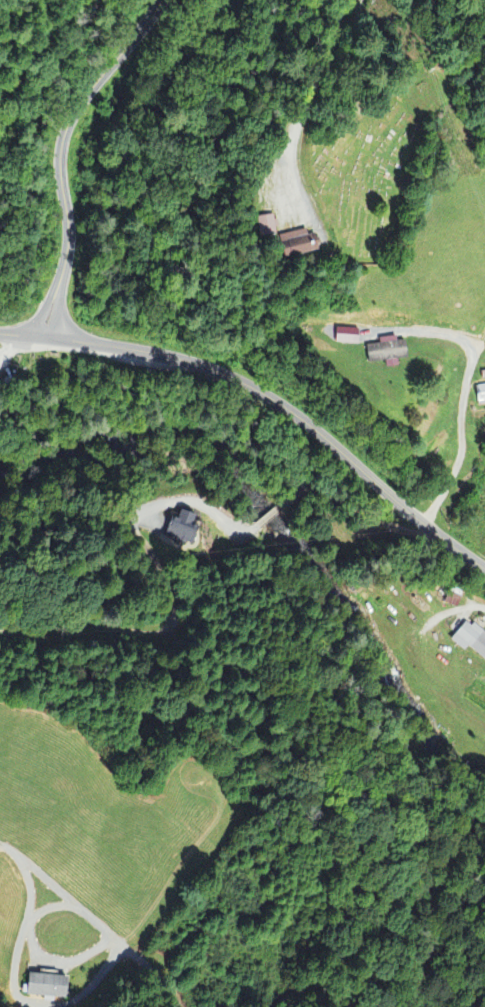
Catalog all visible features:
road: (307, 103)
road: (64, 152)
building: (269, 228)
building: (299, 246)
road: (25, 335)
building: (350, 338)
building: (389, 353)
building: (481, 394)
road: (289, 409)
building: (187, 530)
building: (472, 639)
road: (161, 981)
building: (50, 987)
road: (309, 989)

